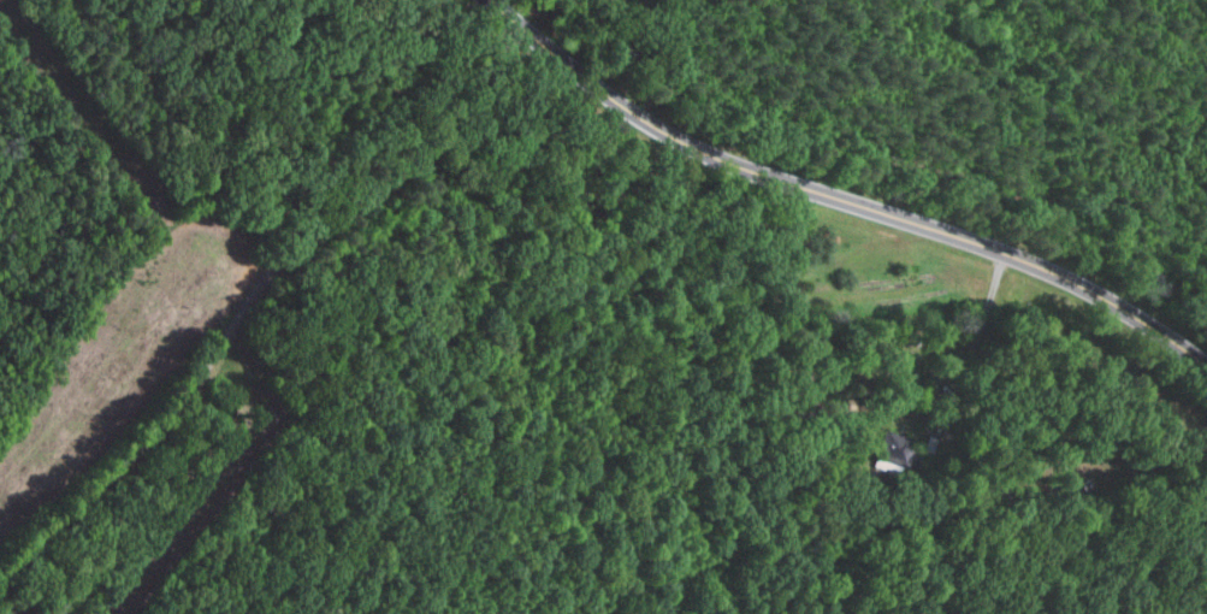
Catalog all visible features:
road: (839, 200)
road: (261, 296)
road: (939, 378)
road: (1082, 386)

